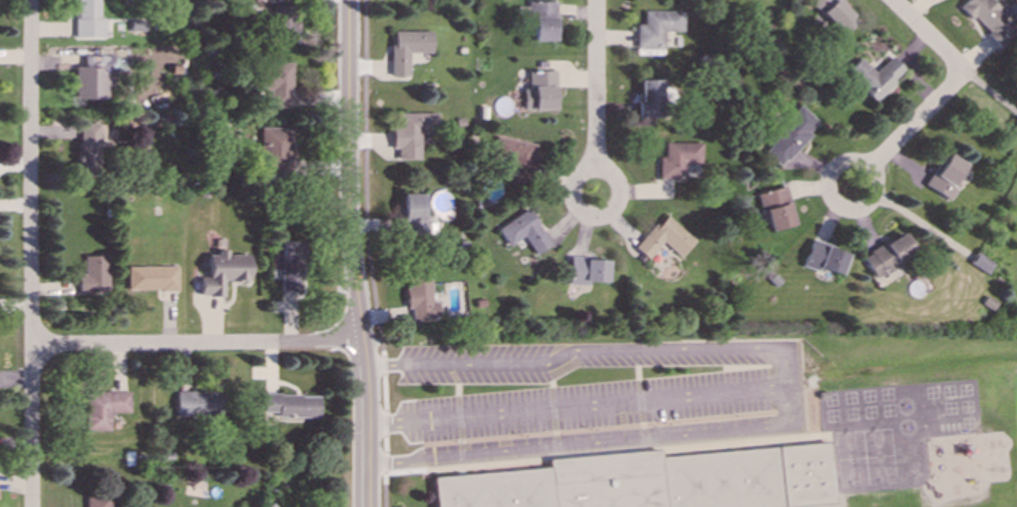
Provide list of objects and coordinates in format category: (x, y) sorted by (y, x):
building: (257, 0)
building: (838, 15)
building: (89, 20)
building: (991, 20)
building: (544, 21)
building: (285, 24)
building: (659, 28)
road: (932, 37)
building: (409, 49)
building: (94, 74)
building: (877, 77)
building: (279, 84)
road: (599, 84)
building: (541, 91)
road: (993, 93)
building: (651, 98)
road: (911, 130)
building: (412, 133)
building: (791, 137)
building: (88, 149)
building: (276, 149)
building: (517, 156)
building: (680, 159)
building: (947, 177)
road: (366, 179)
building: (777, 209)
building: (413, 216)
road: (592, 217)
building: (526, 232)
building: (667, 239)
road: (29, 253)
road: (352, 254)
building: (890, 255)
building: (825, 258)
building: (981, 263)
building: (290, 266)
building: (589, 271)
building: (222, 273)
building: (92, 274)
building: (150, 278)
building: (420, 296)
road: (198, 344)
road: (384, 365)
road: (786, 385)
road: (385, 393)
parking lot: (582, 399)
building: (199, 404)
road: (579, 405)
building: (290, 406)
building: (103, 409)
road: (386, 424)
road: (386, 445)
road: (386, 463)
building: (653, 481)
road: (385, 489)

